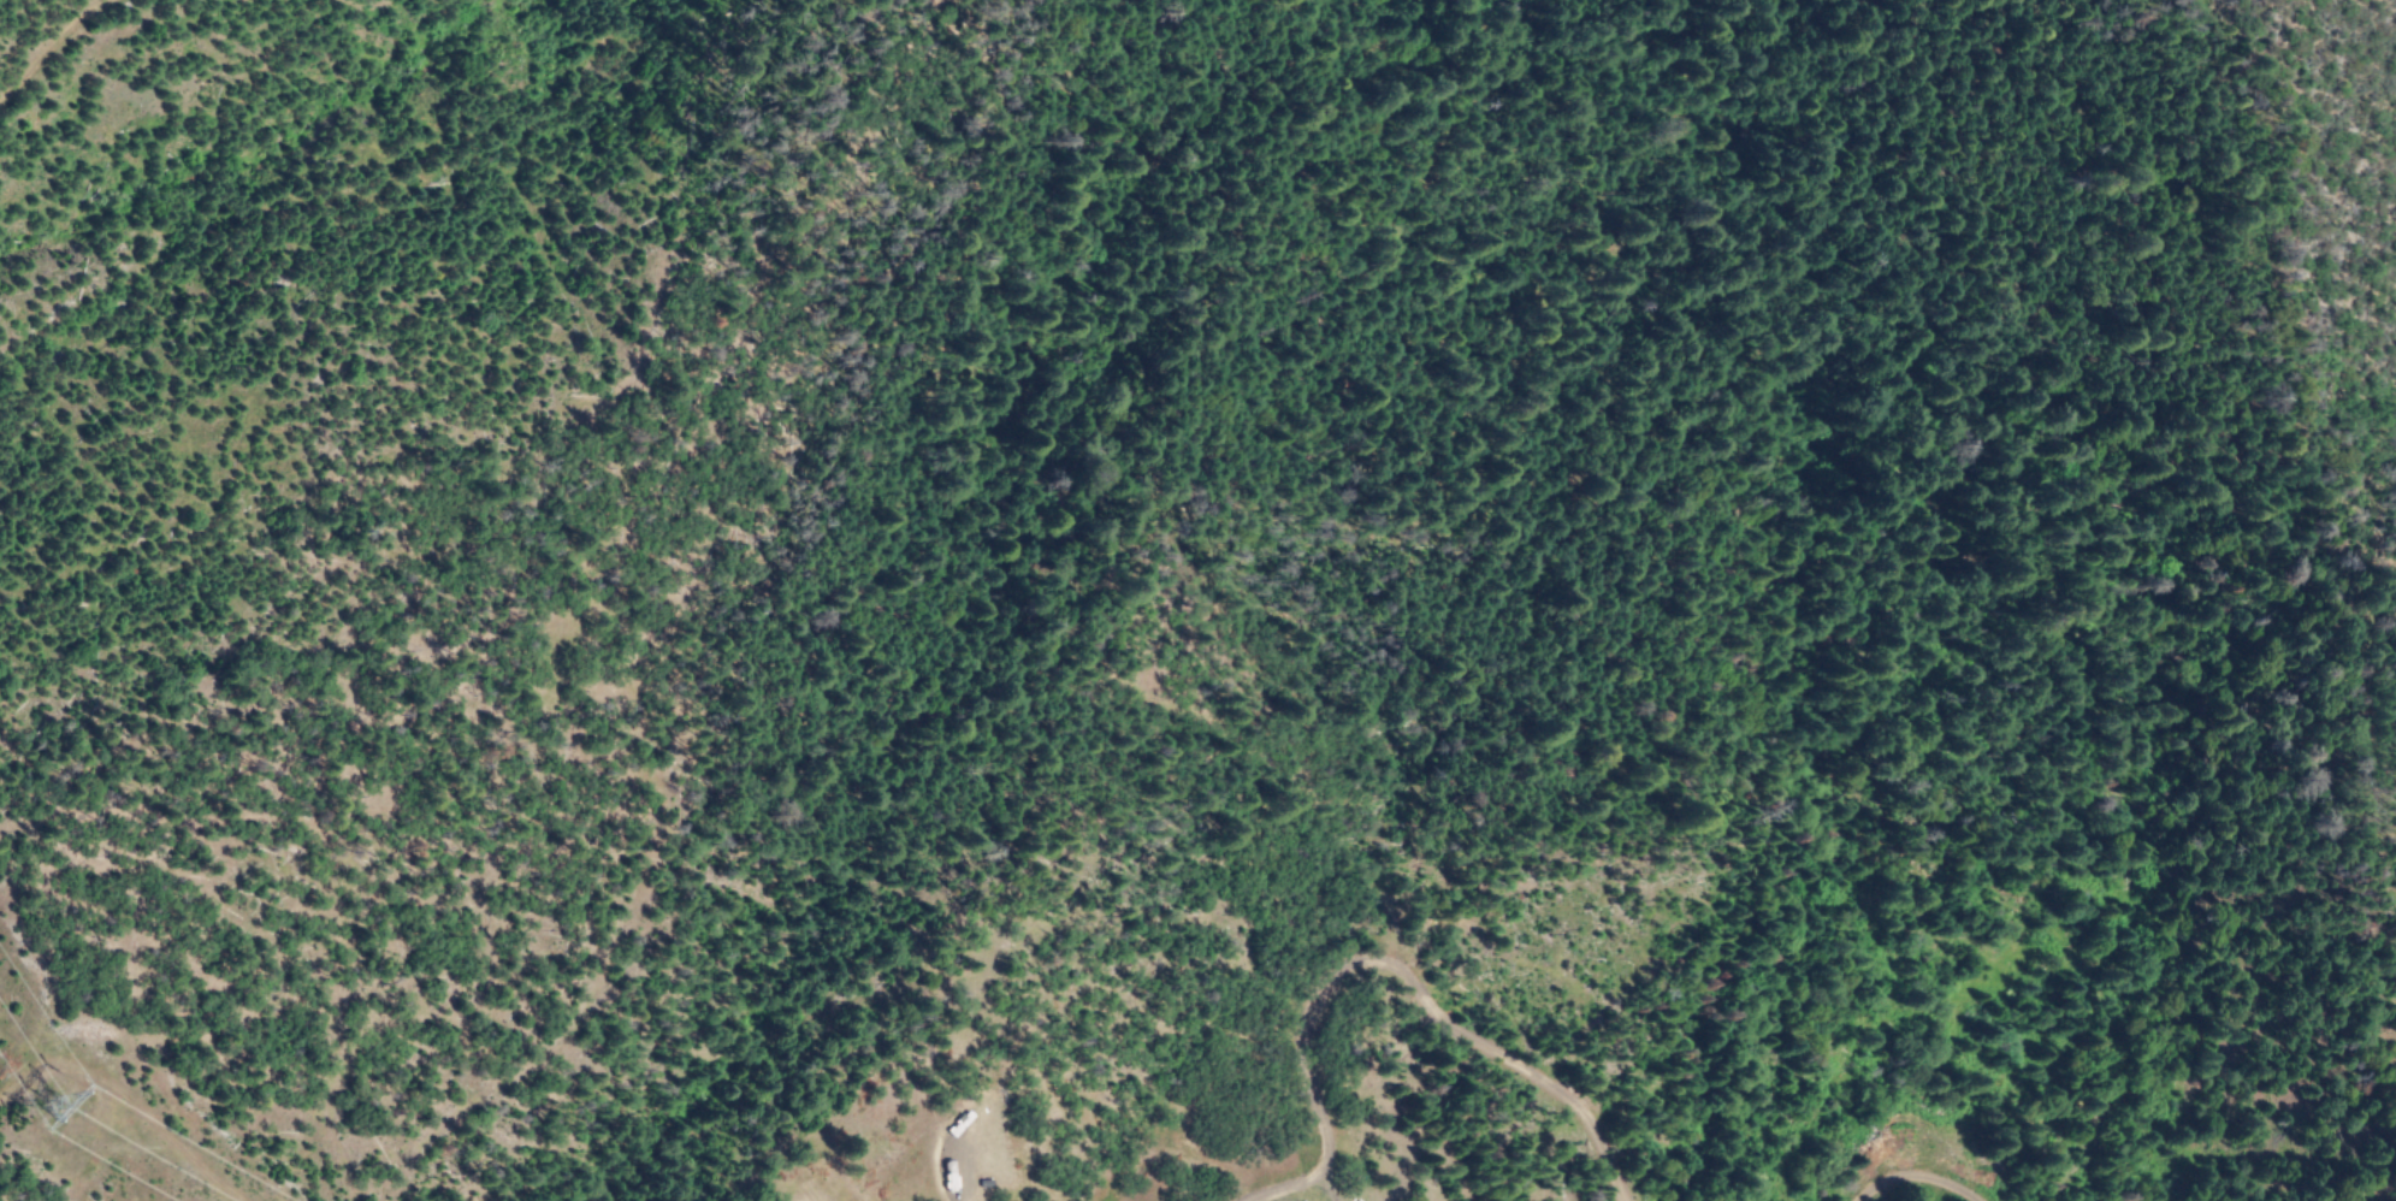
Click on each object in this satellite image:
power tower: (55, 1101)

